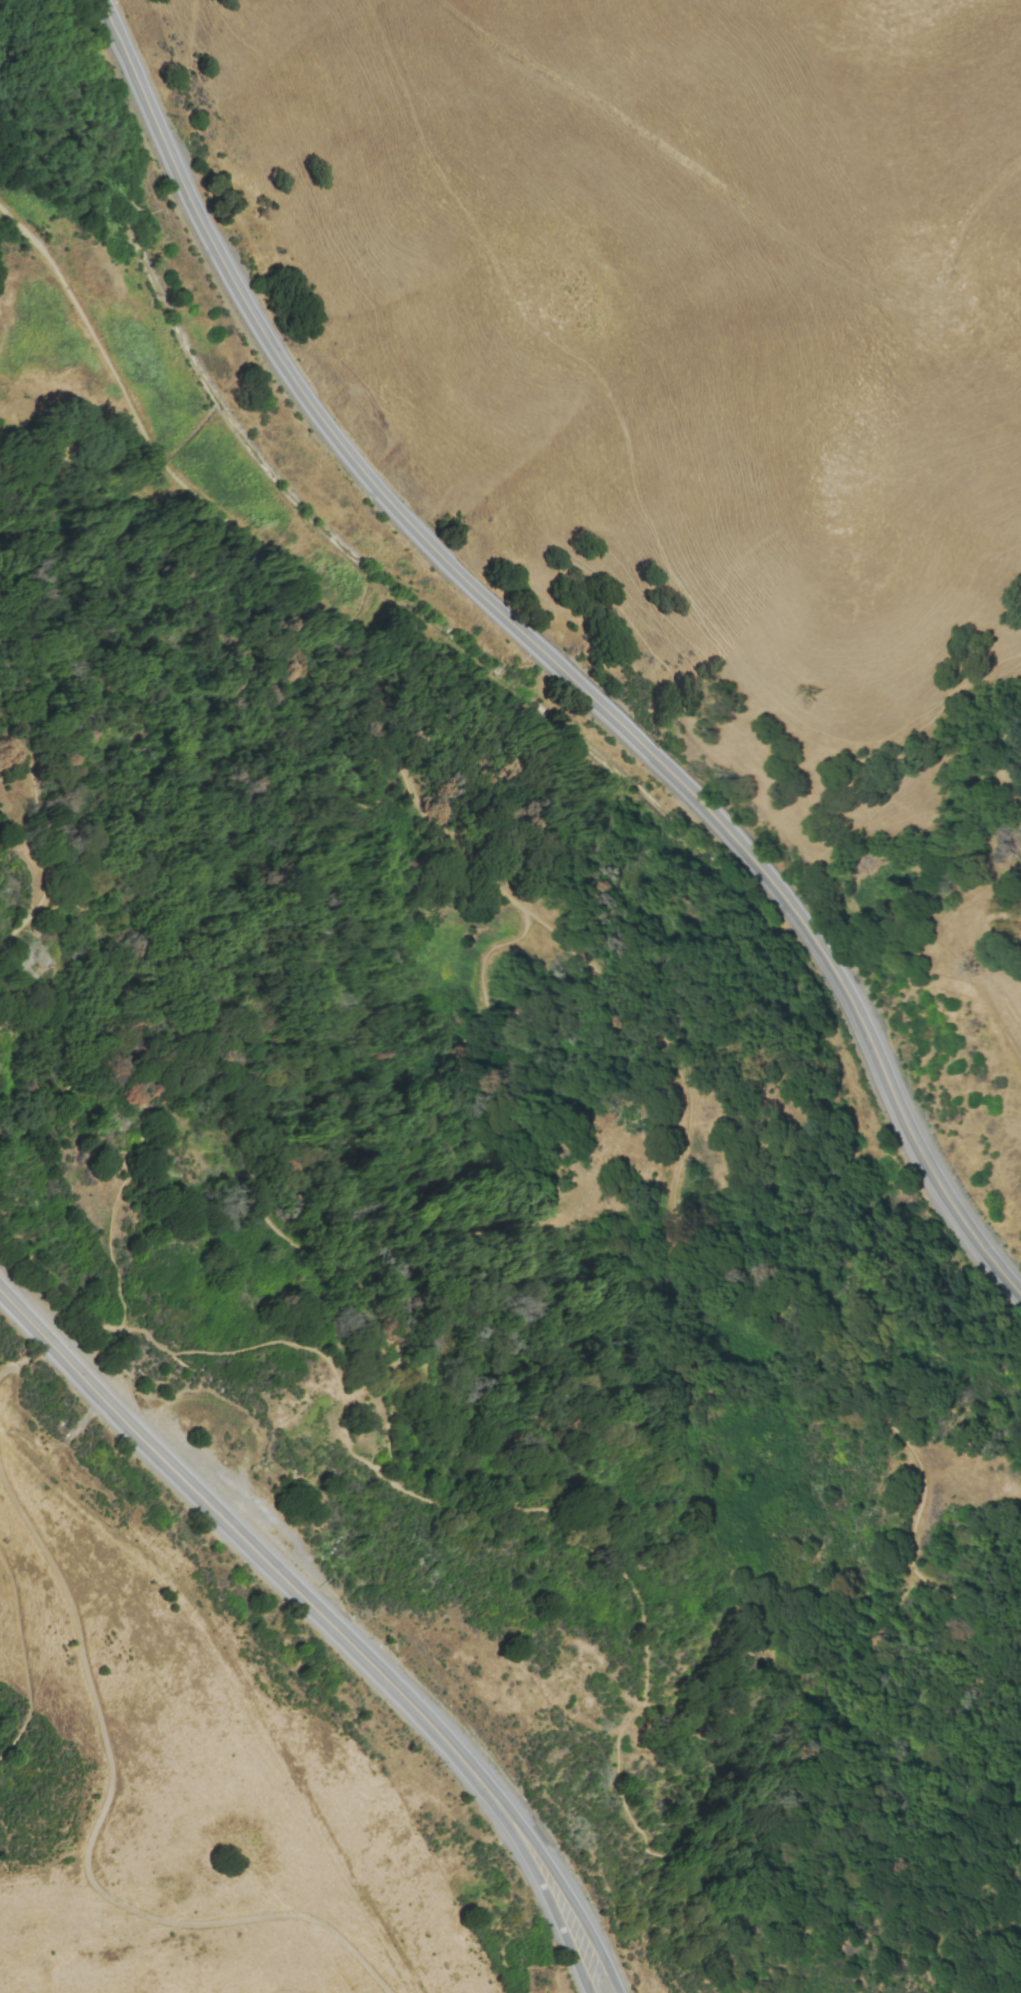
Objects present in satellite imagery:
road: (751, 208)
road: (271, 552)
road: (549, 657)
road: (51, 847)
road: (131, 1134)
road: (109, 1318)
road: (600, 1341)
road: (816, 1355)
road: (188, 1367)
road: (9, 1370)
parking lot: (231, 1481)
road: (249, 1542)
road: (24, 1658)
road: (240, 1688)
road: (622, 1784)
road: (103, 1829)
road: (567, 1890)
road: (549, 1893)
road: (288, 1992)

